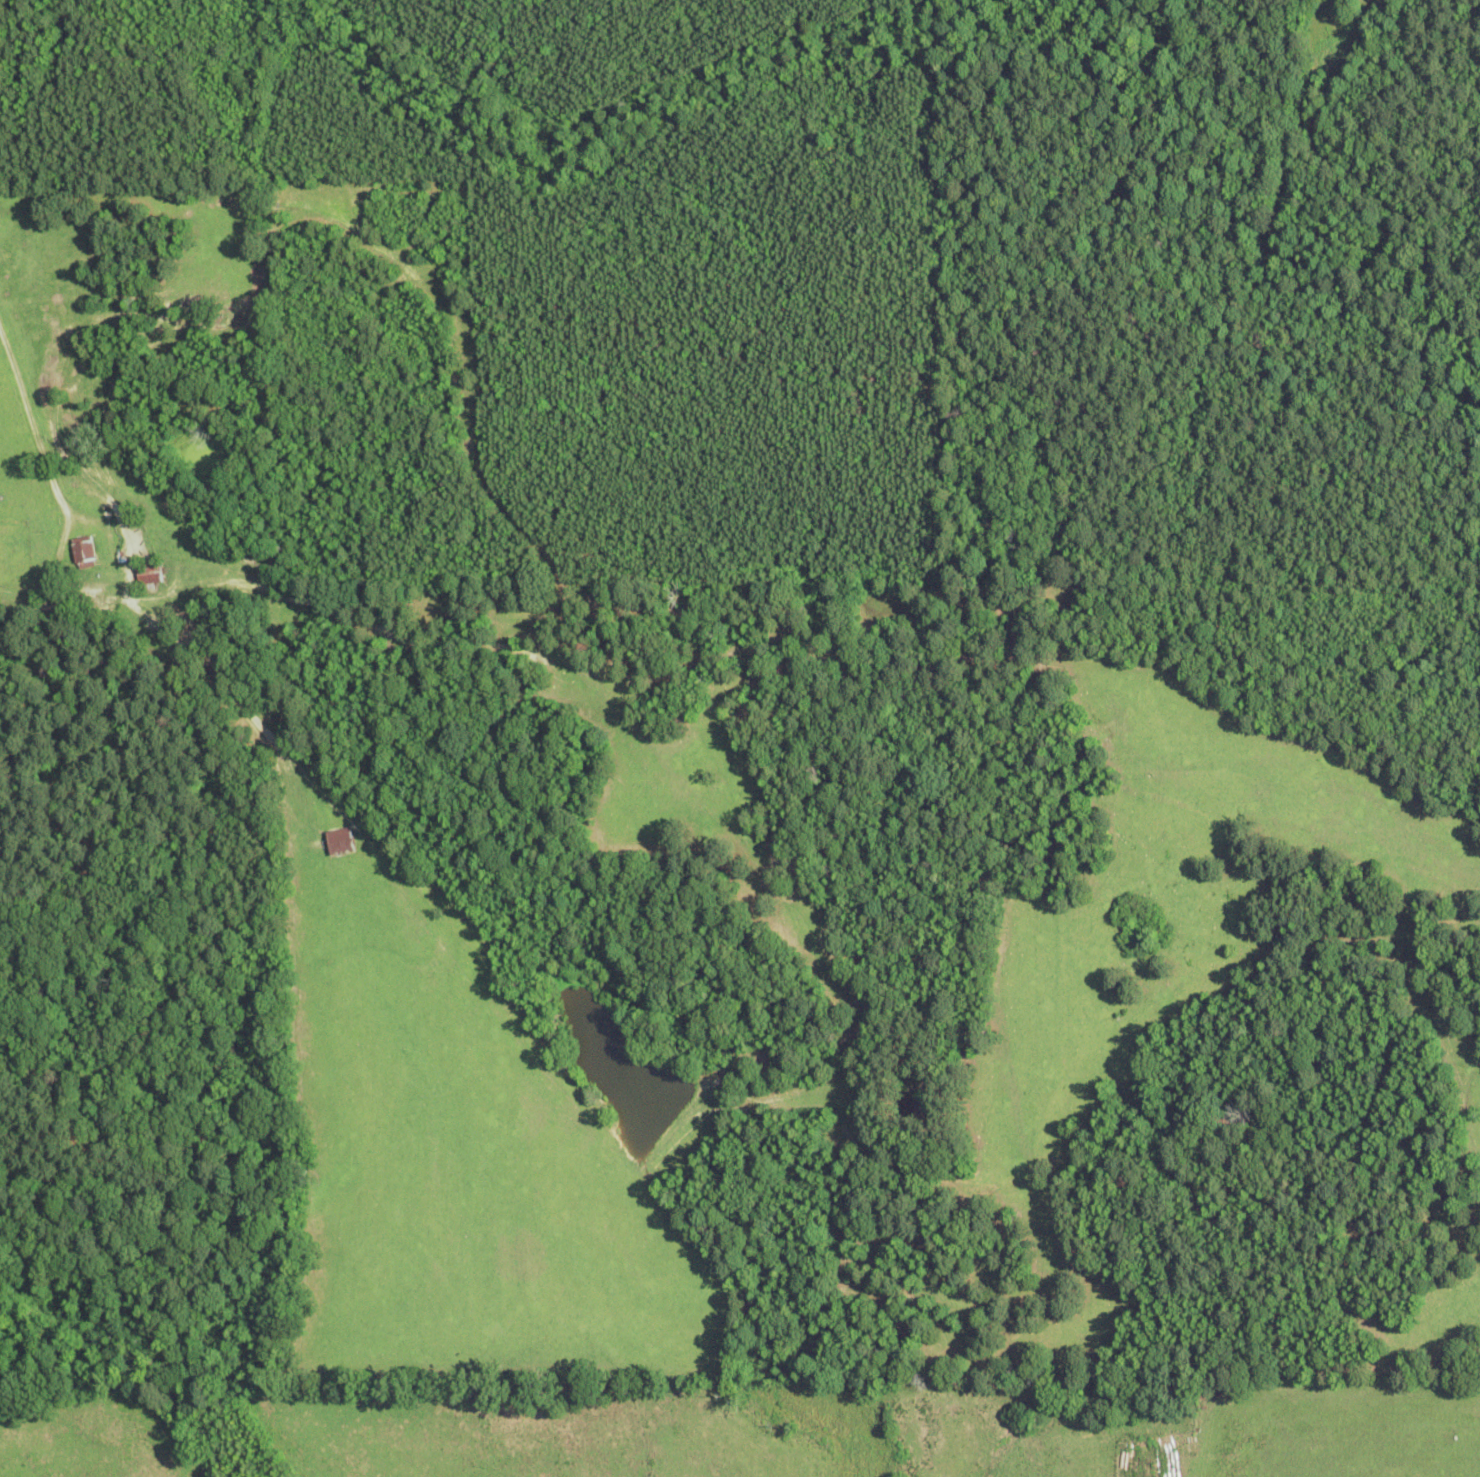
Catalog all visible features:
road: (31, 420)
building: (81, 553)
building: (146, 575)
building: (337, 840)

